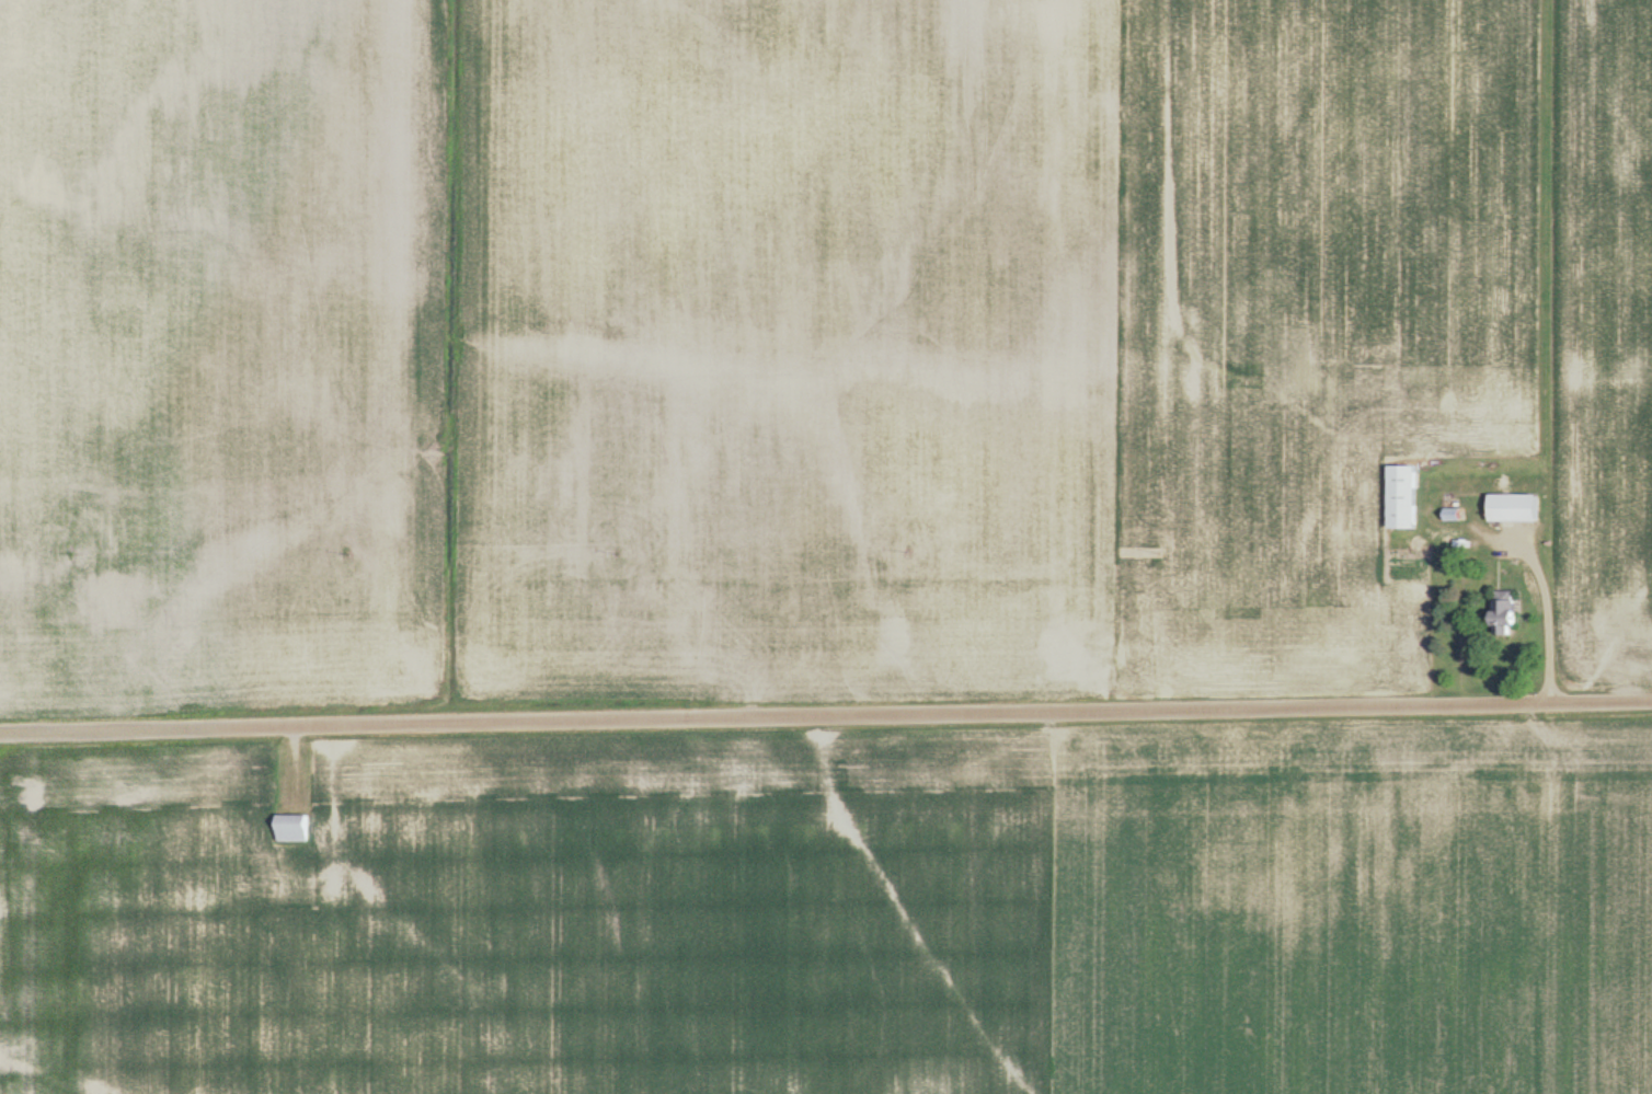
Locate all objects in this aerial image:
building: (1408, 496)
building: (1519, 507)
building: (1448, 541)
road: (1528, 610)
building: (1510, 612)
road: (825, 714)
building: (298, 829)

